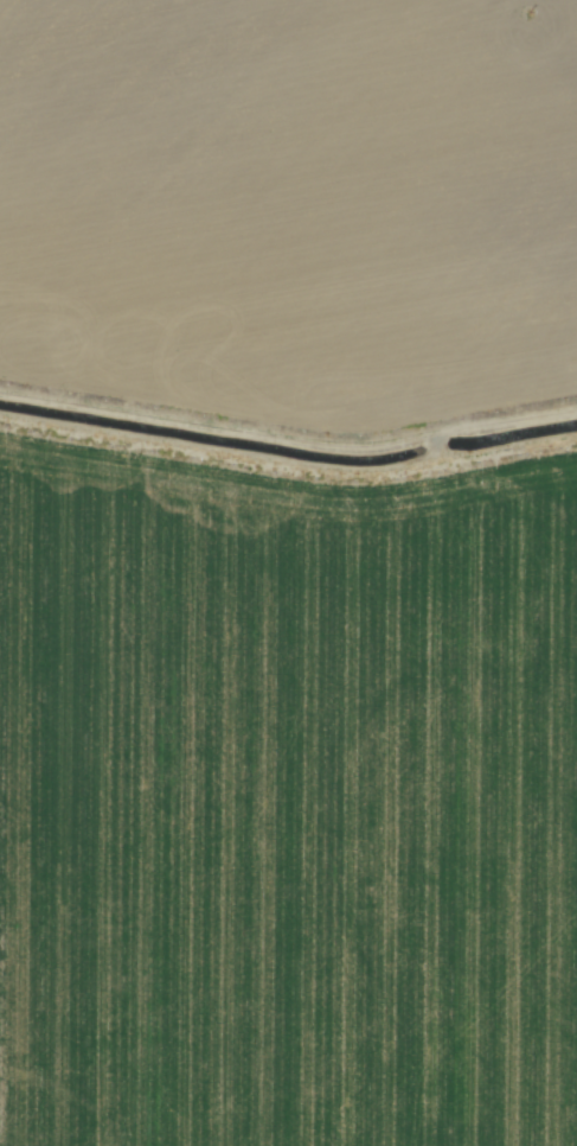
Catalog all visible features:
road: (288, 443)

